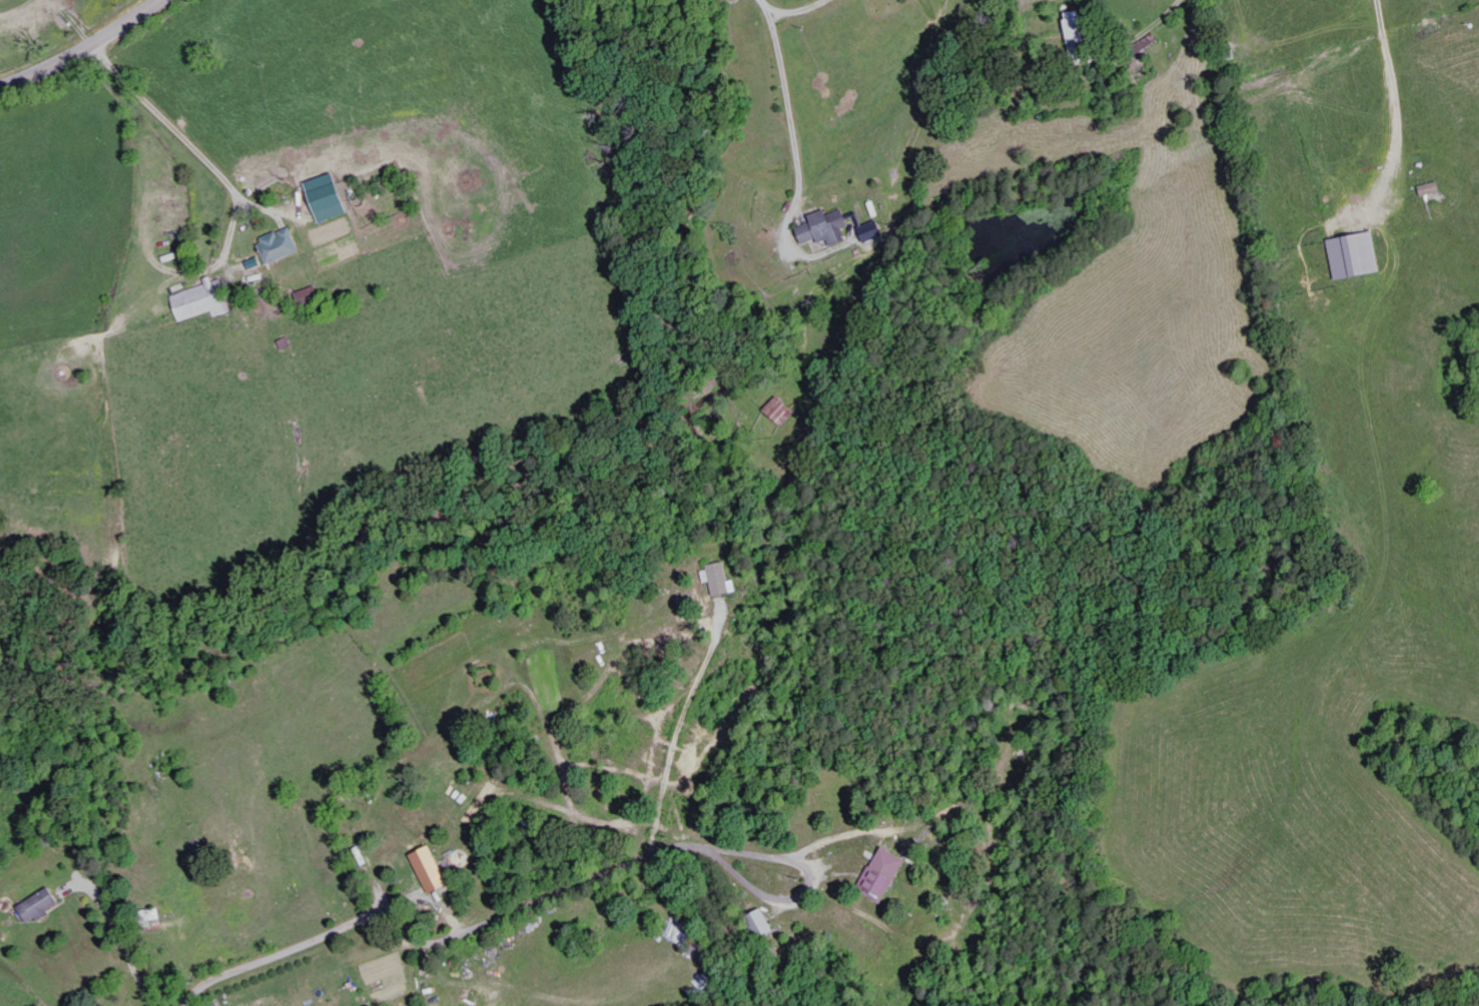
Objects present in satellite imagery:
building: (1081, 38)
road: (82, 49)
road: (1391, 59)
building: (1435, 189)
building: (180, 196)
building: (332, 199)
building: (181, 215)
building: (829, 229)
building: (875, 232)
building: (283, 247)
building: (1359, 257)
building: (311, 296)
building: (204, 301)
building: (782, 411)
building: (723, 579)
building: (434, 870)
building: (888, 874)
building: (43, 905)
building: (764, 923)
road: (291, 951)

